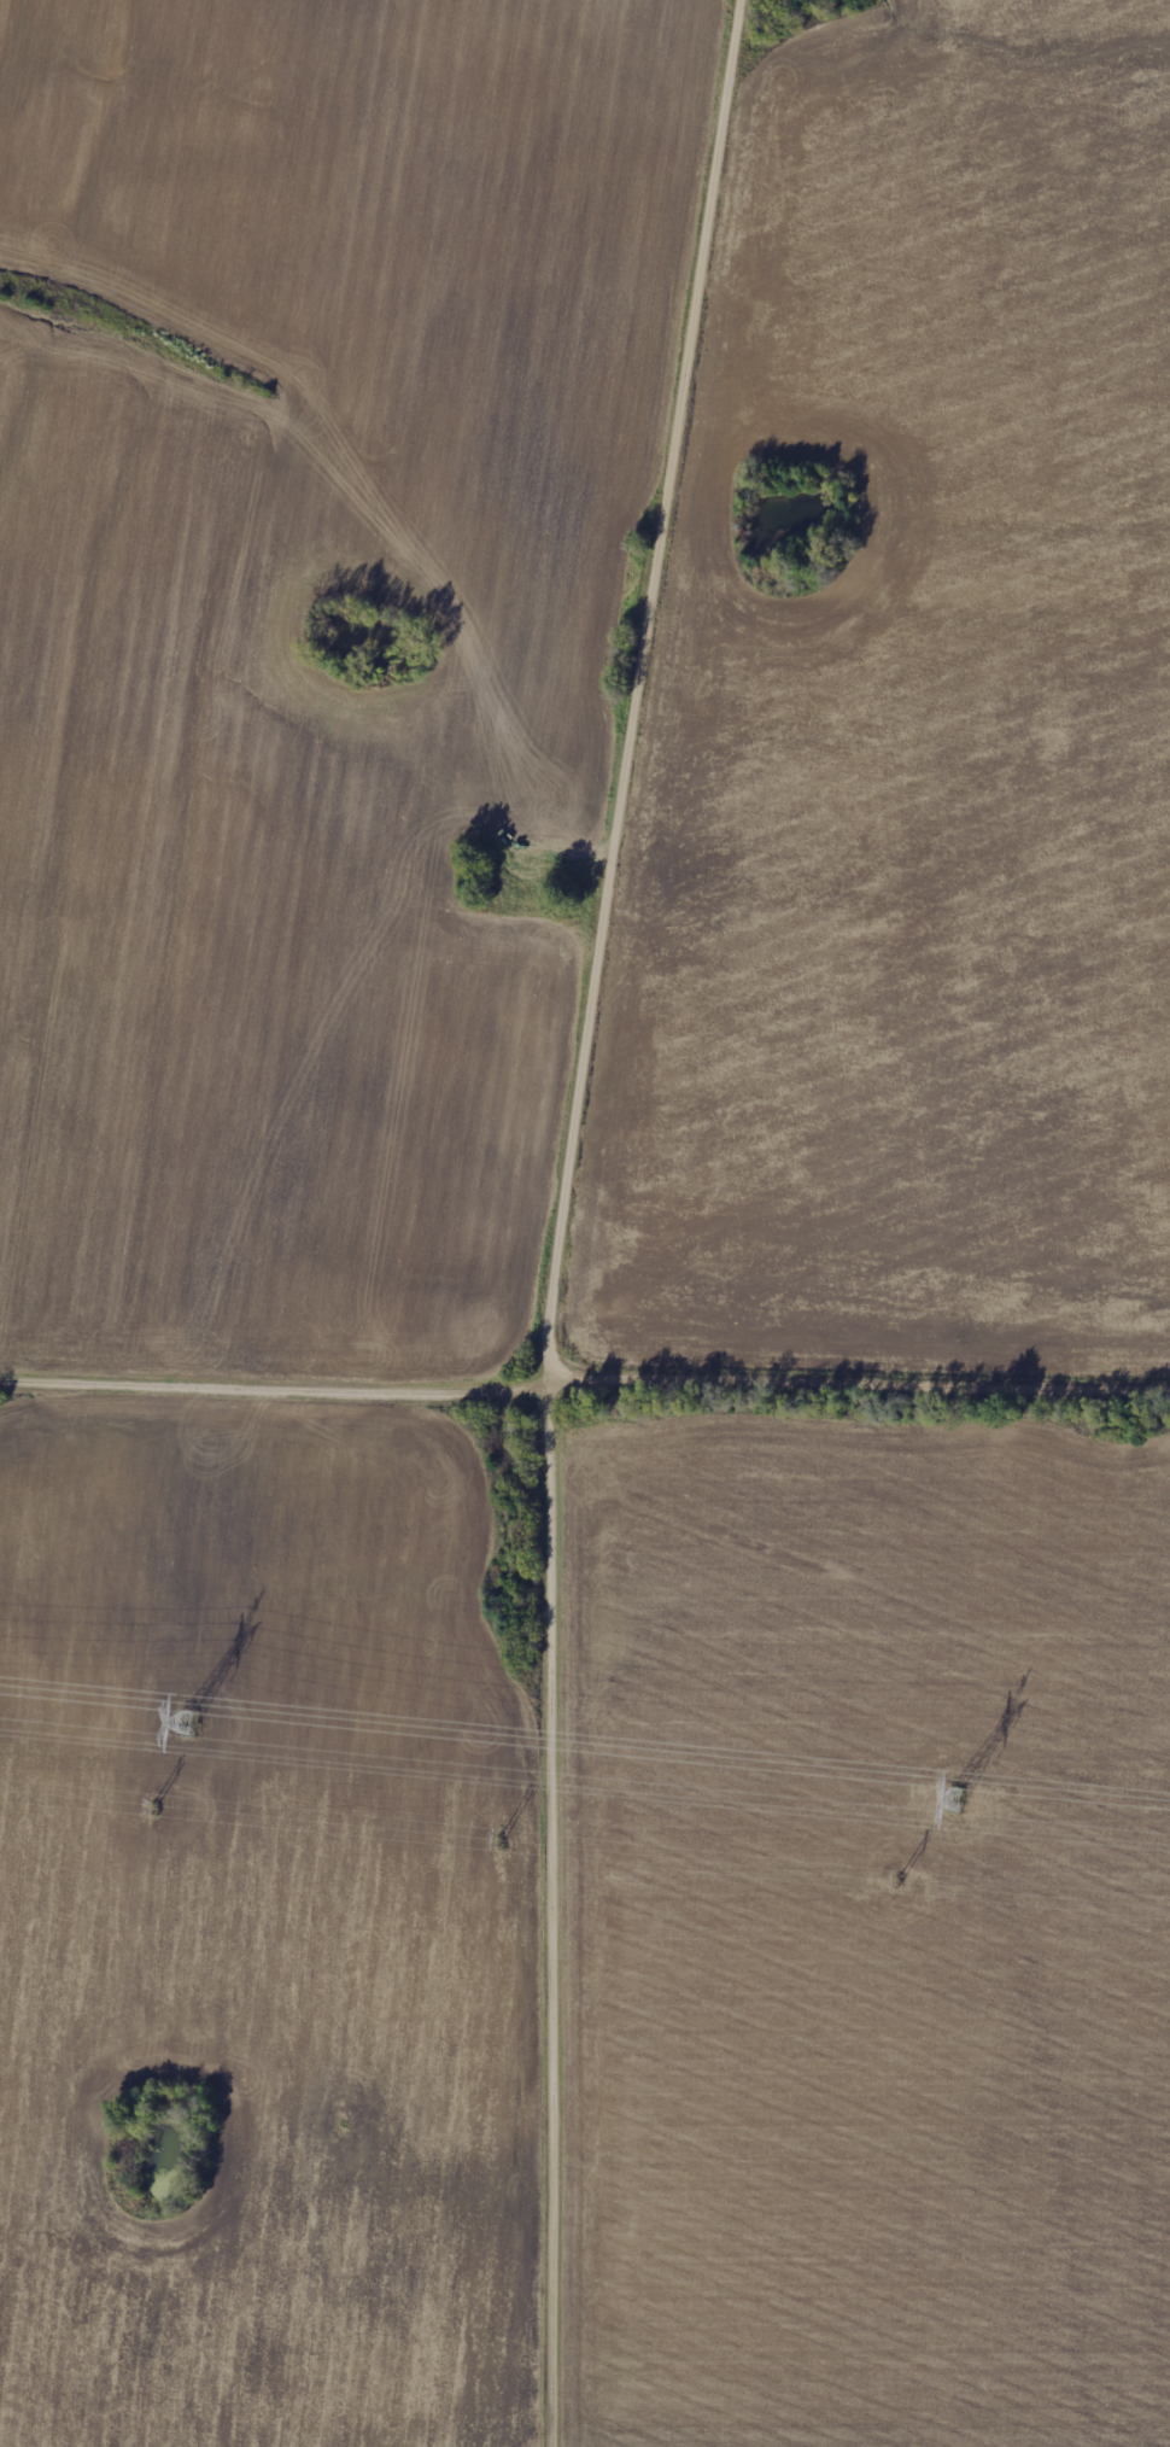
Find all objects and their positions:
road: (643, 691)
road: (584, 1380)
power tower: (185, 1725)
power tower: (957, 1801)
road: (560, 1915)

